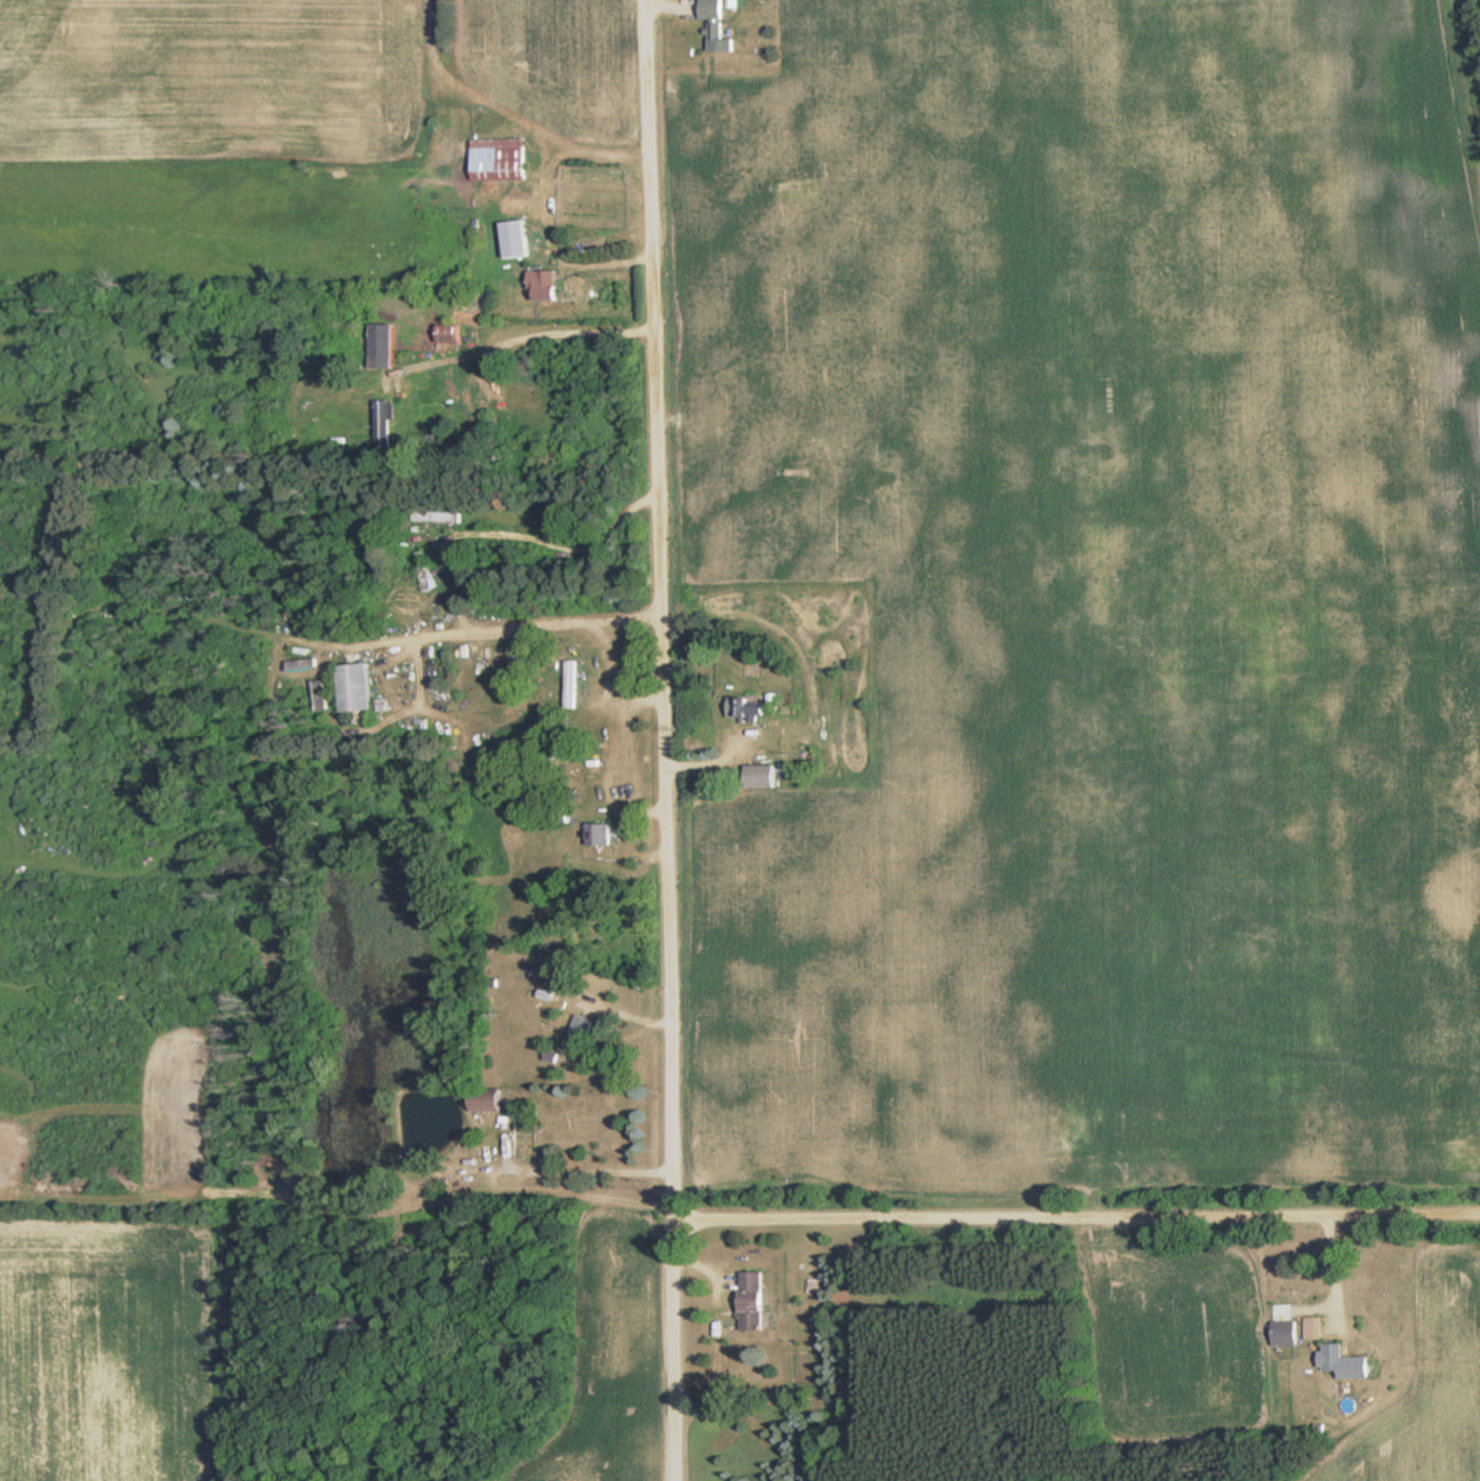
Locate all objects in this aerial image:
building: (718, 25)
building: (500, 158)
building: (516, 238)
building: (545, 284)
building: (448, 332)
building: (383, 345)
building: (385, 421)
building: (438, 515)
building: (422, 570)
building: (570, 682)
building: (357, 687)
building: (748, 708)
road: (666, 740)
building: (761, 775)
building: (601, 834)
building: (576, 936)
building: (578, 1034)
building: (488, 1104)
road: (1078, 1221)
building: (754, 1300)
building: (1286, 1332)
building: (1344, 1361)

